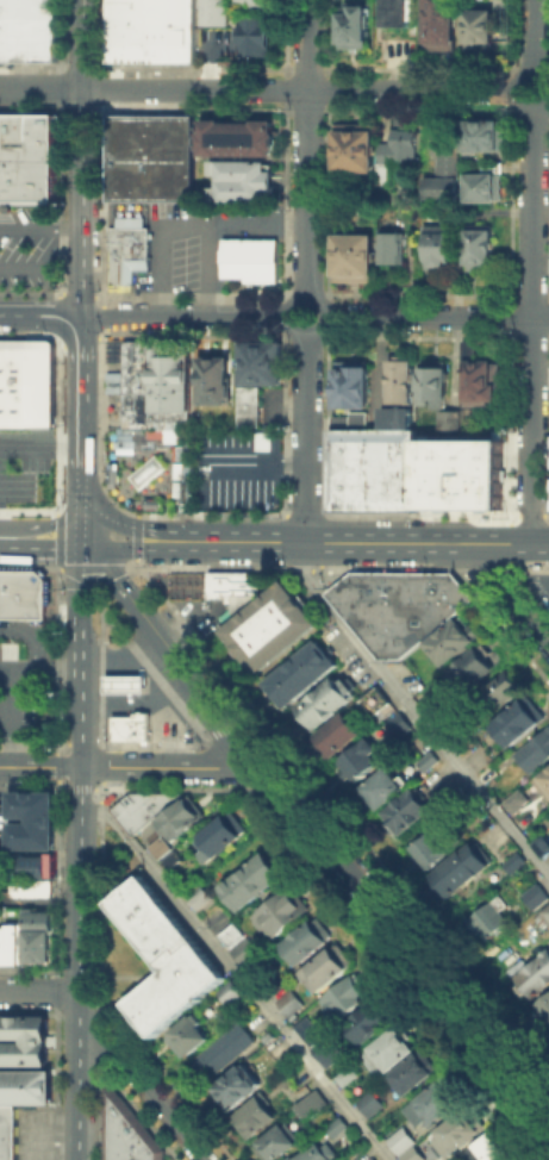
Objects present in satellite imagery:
building: (258, 4)
building: (219, 12)
building: (399, 13)
building: (443, 21)
building: (354, 26)
building: (481, 27)
building: (27, 30)
building: (150, 31)
road: (534, 37)
building: (260, 38)
road: (39, 88)
road: (298, 88)
road: (517, 92)
building: (236, 136)
building: (488, 137)
building: (401, 148)
road: (307, 150)
building: (356, 151)
road: (80, 157)
building: (149, 157)
building: (27, 158)
building: (385, 175)
building: (447, 177)
building: (239, 180)
building: (485, 187)
road: (185, 223)
road: (39, 225)
parking lot: (200, 238)
parking lot: (27, 244)
building: (441, 244)
building: (482, 248)
building: (394, 249)
building: (126, 251)
building: (356, 256)
road: (40, 258)
building: (249, 258)
road: (211, 269)
road: (39, 314)
road: (185, 316)
road: (436, 316)
road: (323, 318)
road: (531, 325)
building: (129, 355)
building: (258, 360)
building: (217, 378)
building: (481, 380)
building: (404, 381)
building: (436, 381)
building: (26, 382)
building: (126, 382)
building: (169, 385)
building: (355, 385)
road: (80, 388)
building: (248, 405)
building: (136, 409)
building: (348, 420)
building: (454, 420)
road: (306, 437)
road: (40, 444)
road: (258, 464)
parking lot: (26, 466)
parking lot: (238, 467)
building: (458, 468)
building: (375, 469)
building: (145, 470)
road: (81, 475)
building: (181, 478)
road: (80, 517)
road: (125, 524)
road: (51, 525)
road: (367, 541)
road: (38, 548)
traffic signals: (79, 548)
road: (132, 548)
road: (91, 567)
road: (93, 580)
building: (233, 586)
building: (21, 593)
road: (509, 598)
building: (397, 606)
road: (77, 609)
road: (137, 609)
building: (276, 625)
road: (29, 635)
building: (447, 640)
road: (123, 660)
building: (470, 668)
road: (14, 669)
road: (54, 669)
building: (307, 673)
road: (123, 681)
building: (123, 682)
gas station: (123, 682)
building: (503, 686)
building: (373, 699)
road: (138, 703)
building: (327, 705)
road: (414, 713)
road: (6, 718)
road: (79, 718)
building: (514, 722)
road: (229, 723)
building: (397, 723)
building: (130, 725)
building: (338, 738)
road: (254, 741)
building: (534, 749)
road: (236, 756)
building: (360, 757)
building: (425, 759)
road: (257, 765)
road: (38, 767)
road: (162, 767)
building: (543, 778)
building: (382, 785)
building: (31, 796)
building: (513, 799)
building: (143, 806)
building: (31, 810)
building: (406, 810)
building: (523, 817)
building: (182, 818)
building: (31, 827)
road: (89, 828)
building: (220, 838)
building: (30, 840)
building: (541, 844)
building: (158, 847)
building: (428, 849)
building: (548, 854)
building: (513, 860)
building: (33, 865)
building: (458, 868)
building: (255, 881)
building: (30, 886)
building: (198, 896)
building: (534, 896)
road: (39, 899)
building: (279, 911)
building: (36, 912)
building: (547, 915)
building: (491, 918)
building: (37, 923)
building: (27, 934)
building: (229, 934)
building: (12, 941)
building: (2, 944)
building: (306, 944)
building: (27, 946)
building: (42, 946)
building: (243, 948)
building: (27, 958)
building: (163, 958)
road: (77, 962)
building: (326, 969)
road: (426, 972)
building: (534, 973)
road: (239, 977)
building: (227, 991)
road: (38, 992)
building: (349, 997)
building: (288, 1002)
building: (545, 1009)
building: (369, 1022)
building: (189, 1039)
building: (317, 1039)
building: (23, 1040)
building: (224, 1052)
building: (391, 1052)
building: (345, 1074)
building: (413, 1077)
building: (241, 1087)
road: (146, 1090)
building: (310, 1102)
building: (374, 1103)
building: (433, 1105)
building: (257, 1117)
building: (335, 1124)
building: (8, 1131)
building: (460, 1133)
building: (127, 1135)
building: (400, 1139)
building: (281, 1143)
building: (489, 1149)
building: (311, 1153)
building: (411, 1153)
building: (368, 1158)

